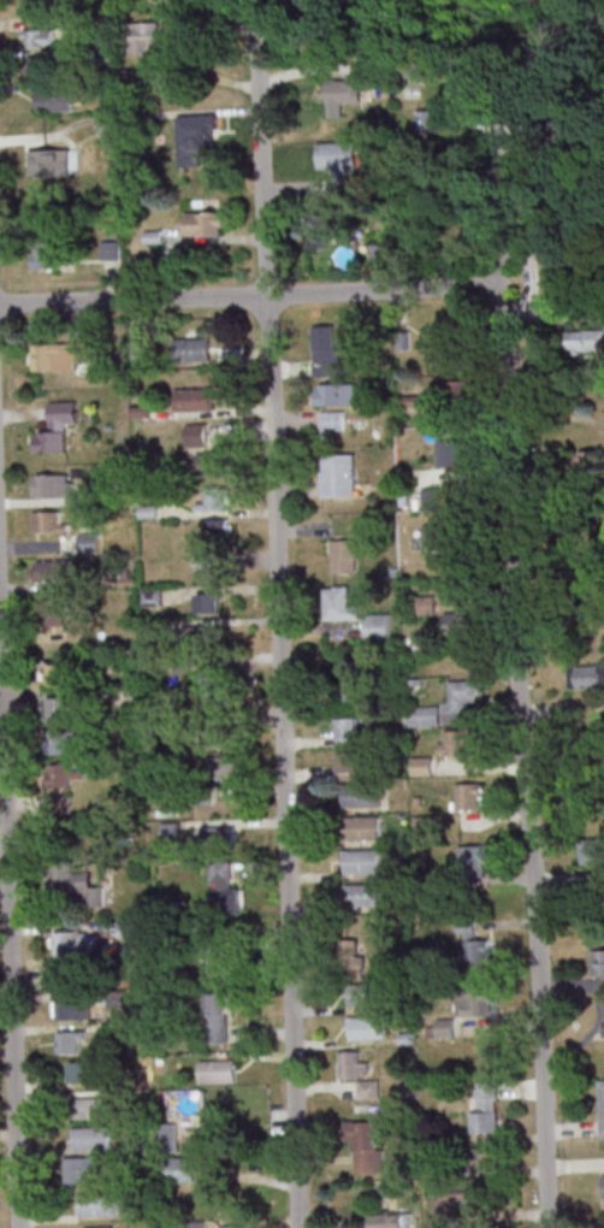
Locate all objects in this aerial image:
building: (36, 2)
river: (572, 35)
building: (40, 37)
building: (150, 49)
building: (39, 66)
building: (342, 94)
building: (54, 99)
building: (108, 123)
building: (195, 136)
building: (338, 159)
building: (51, 163)
road: (498, 209)
building: (205, 223)
building: (321, 229)
building: (112, 249)
building: (48, 254)
road: (135, 297)
road: (552, 312)
building: (584, 340)
building: (455, 346)
building: (193, 349)
building: (326, 350)
building: (61, 355)
building: (336, 394)
building: (458, 394)
building: (194, 398)
building: (332, 419)
building: (58, 427)
building: (196, 433)
building: (458, 449)
building: (211, 464)
building: (339, 474)
building: (53, 485)
building: (215, 500)
building: (49, 524)
building: (219, 527)
building: (439, 536)
building: (88, 542)
building: (345, 555)
building: (207, 566)
building: (53, 568)
road: (557, 573)
building: (209, 602)
building: (339, 603)
building: (425, 604)
building: (53, 612)
building: (461, 622)
building: (378, 626)
road: (280, 627)
building: (207, 633)
road: (513, 648)
building: (57, 674)
building: (590, 675)
building: (355, 677)
building: (213, 686)
building: (461, 696)
building: (58, 708)
building: (422, 715)
building: (348, 731)
building: (61, 742)
building: (456, 742)
building: (350, 764)
building: (422, 764)
building: (226, 766)
building: (65, 774)
building: (361, 793)
building: (469, 796)
building: (63, 811)
building: (362, 827)
building: (425, 827)
building: (171, 830)
building: (218, 836)
building: (593, 850)
building: (362, 861)
building: (474, 861)
building: (221, 881)
building: (77, 882)
building: (363, 895)
building: (131, 929)
building: (206, 935)
building: (70, 941)
building: (474, 945)
road: (8, 957)
building: (353, 957)
building: (597, 962)
building: (213, 964)
building: (60, 975)
building: (363, 993)
building: (473, 1000)
building: (72, 1008)
building: (217, 1017)
building: (367, 1027)
building: (444, 1027)
building: (69, 1041)
building: (351, 1064)
building: (84, 1070)
building: (214, 1070)
building: (94, 1106)
building: (485, 1106)
building: (600, 1108)
building: (167, 1137)
building: (91, 1138)
building: (365, 1146)
building: (485, 1157)
building: (83, 1169)
building: (183, 1169)
building: (97, 1204)
building: (449, 1204)
building: (389, 1220)
building: (99, 1227)
building: (233, 1227)

